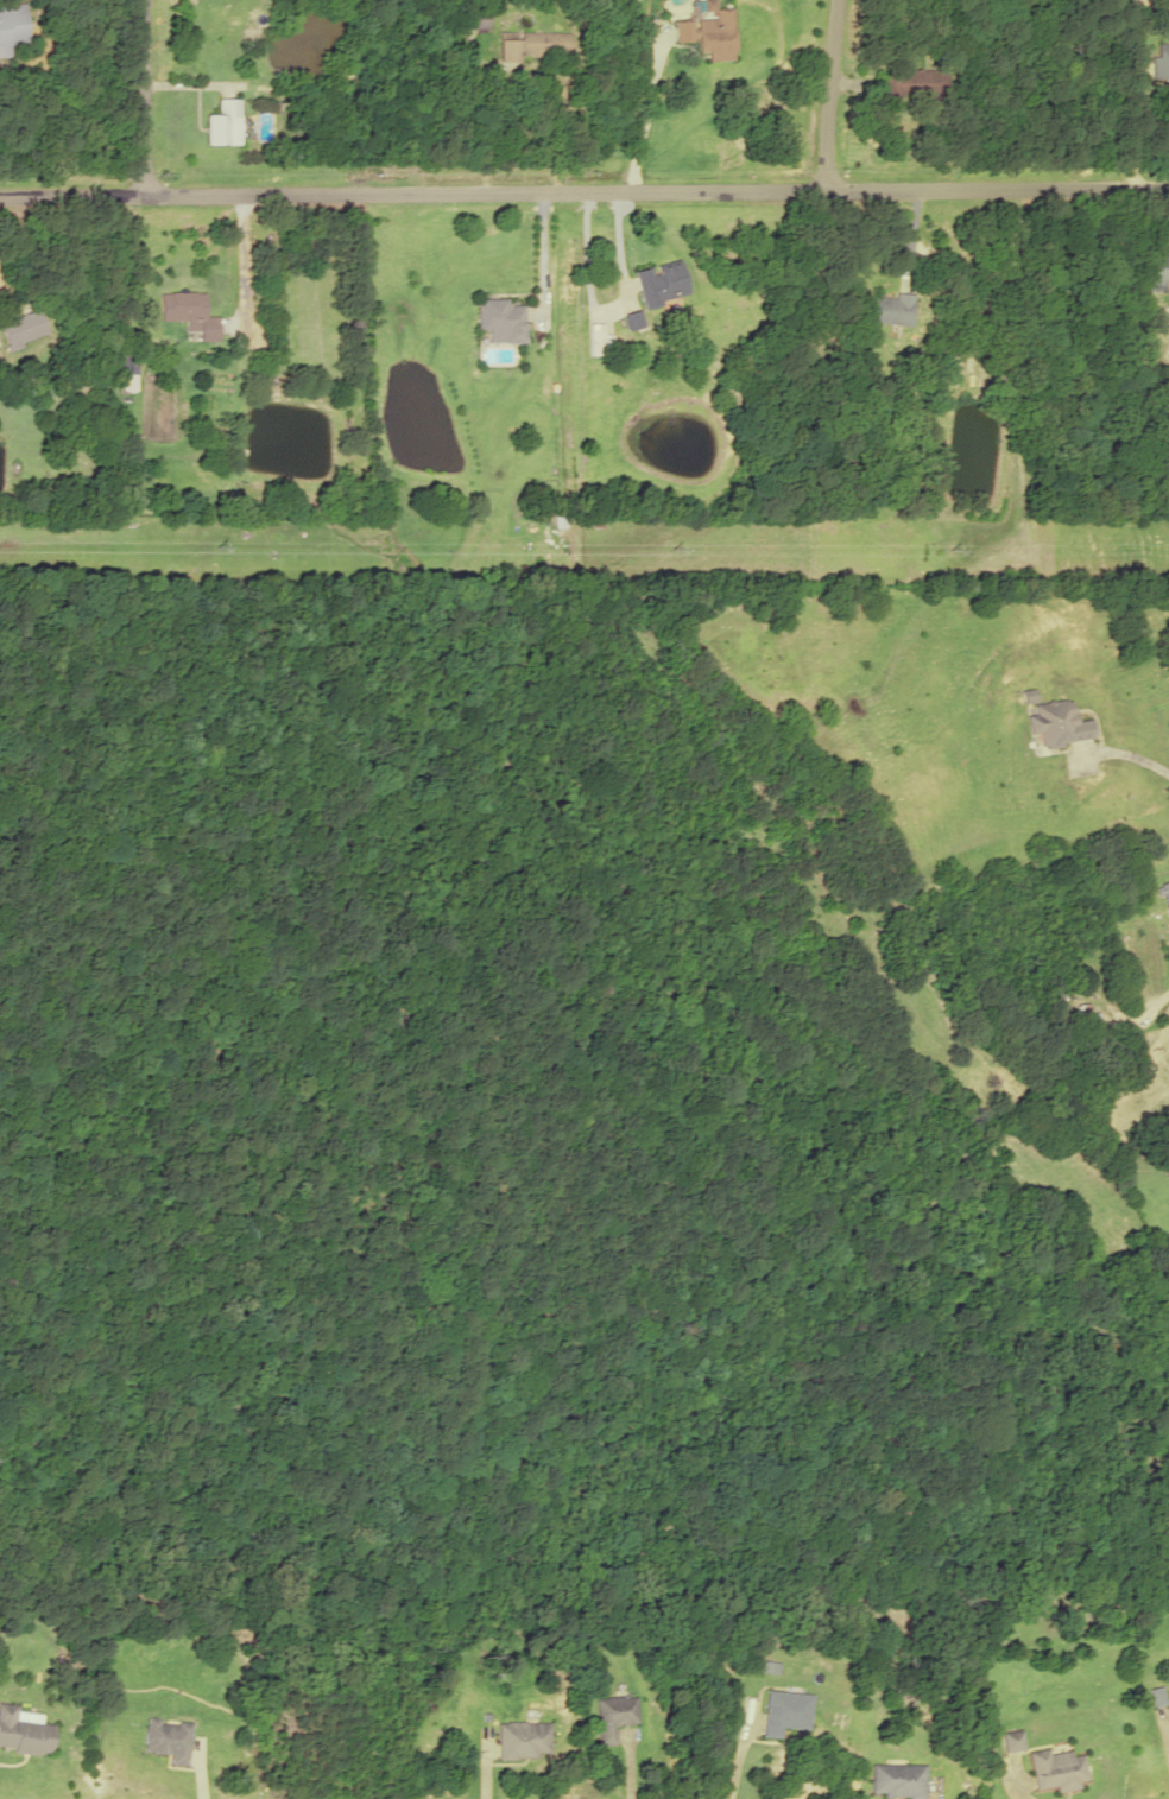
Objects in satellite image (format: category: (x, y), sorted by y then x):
building: (10, 27)
building: (709, 32)
building: (556, 43)
building: (1159, 57)
building: (912, 83)
road: (828, 93)
road: (143, 96)
building: (222, 122)
road: (584, 190)
building: (1157, 273)
building: (659, 281)
building: (889, 309)
building: (187, 312)
building: (500, 319)
building: (21, 328)
building: (593, 341)
building: (128, 372)
building: (1059, 723)
building: (1164, 897)
building: (1085, 1027)
building: (783, 1712)
building: (611, 1716)
building: (23, 1733)
building: (166, 1740)
building: (519, 1740)
building: (1010, 1741)
building: (1055, 1769)
building: (895, 1781)

